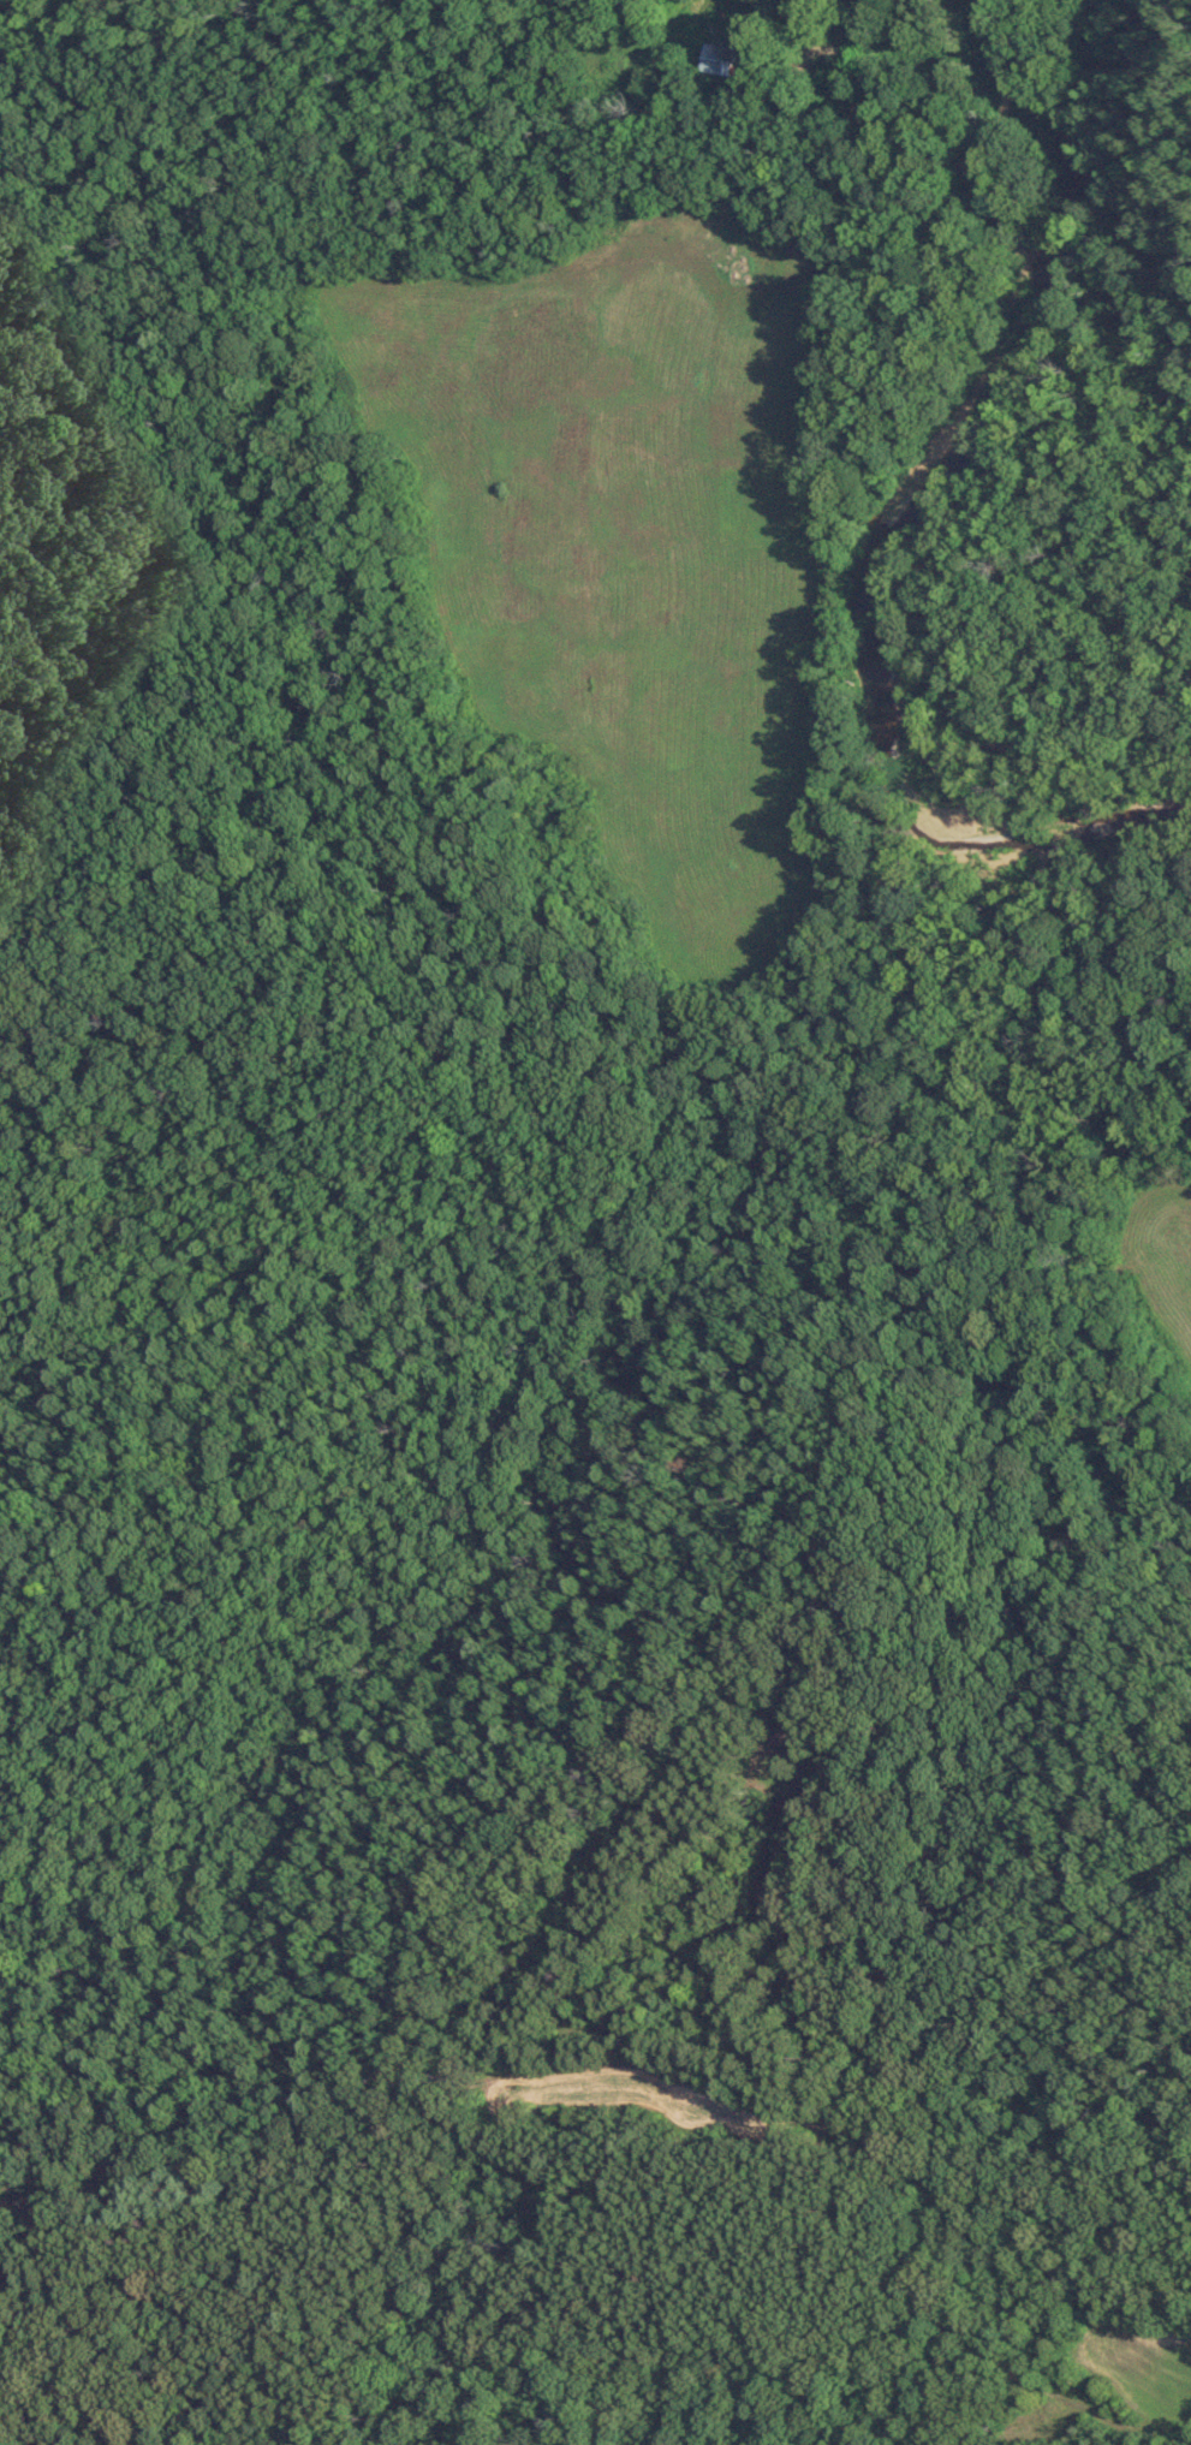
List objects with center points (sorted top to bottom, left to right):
road: (978, 30)
road: (671, 53)
building: (717, 59)
road: (248, 194)
road: (1080, 301)

